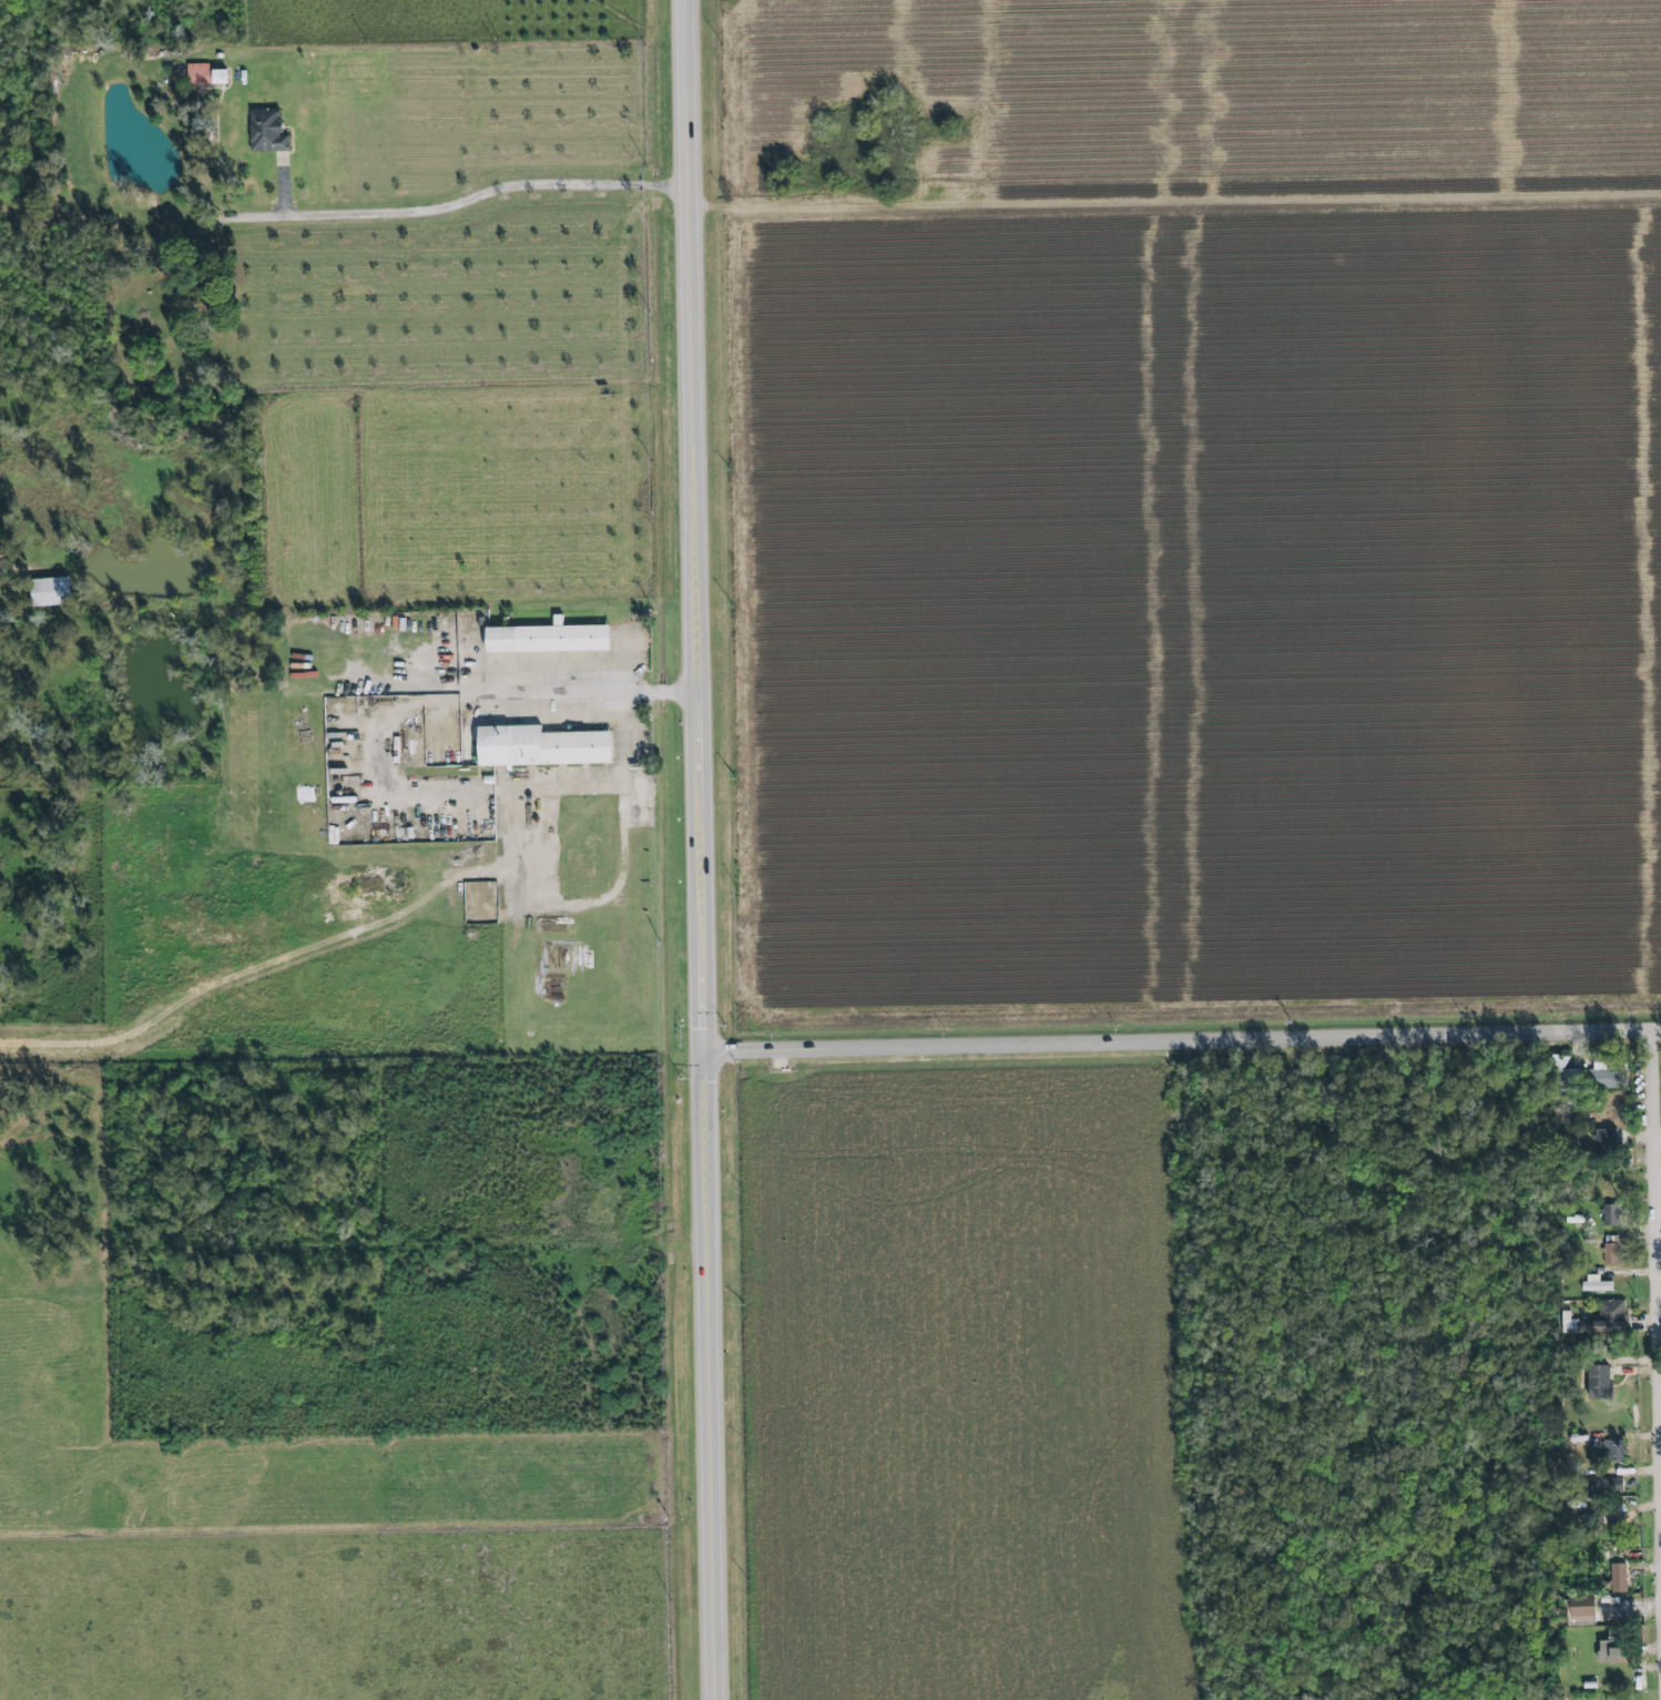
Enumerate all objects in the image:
building: (202, 75)
building: (269, 132)
road: (479, 193)
road: (19, 568)
building: (57, 592)
building: (548, 635)
road: (588, 691)
building: (536, 746)
road: (620, 782)
road: (695, 849)
road: (1180, 1038)
building: (1608, 1079)
building: (1604, 1139)
road: (1658, 1207)
building: (1609, 1214)
building: (1609, 1254)
building: (1594, 1284)
building: (1614, 1316)
building: (1598, 1382)
building: (1611, 1450)
building: (1612, 1486)
building: (1617, 1578)
building: (1580, 1607)
building: (1608, 1651)

